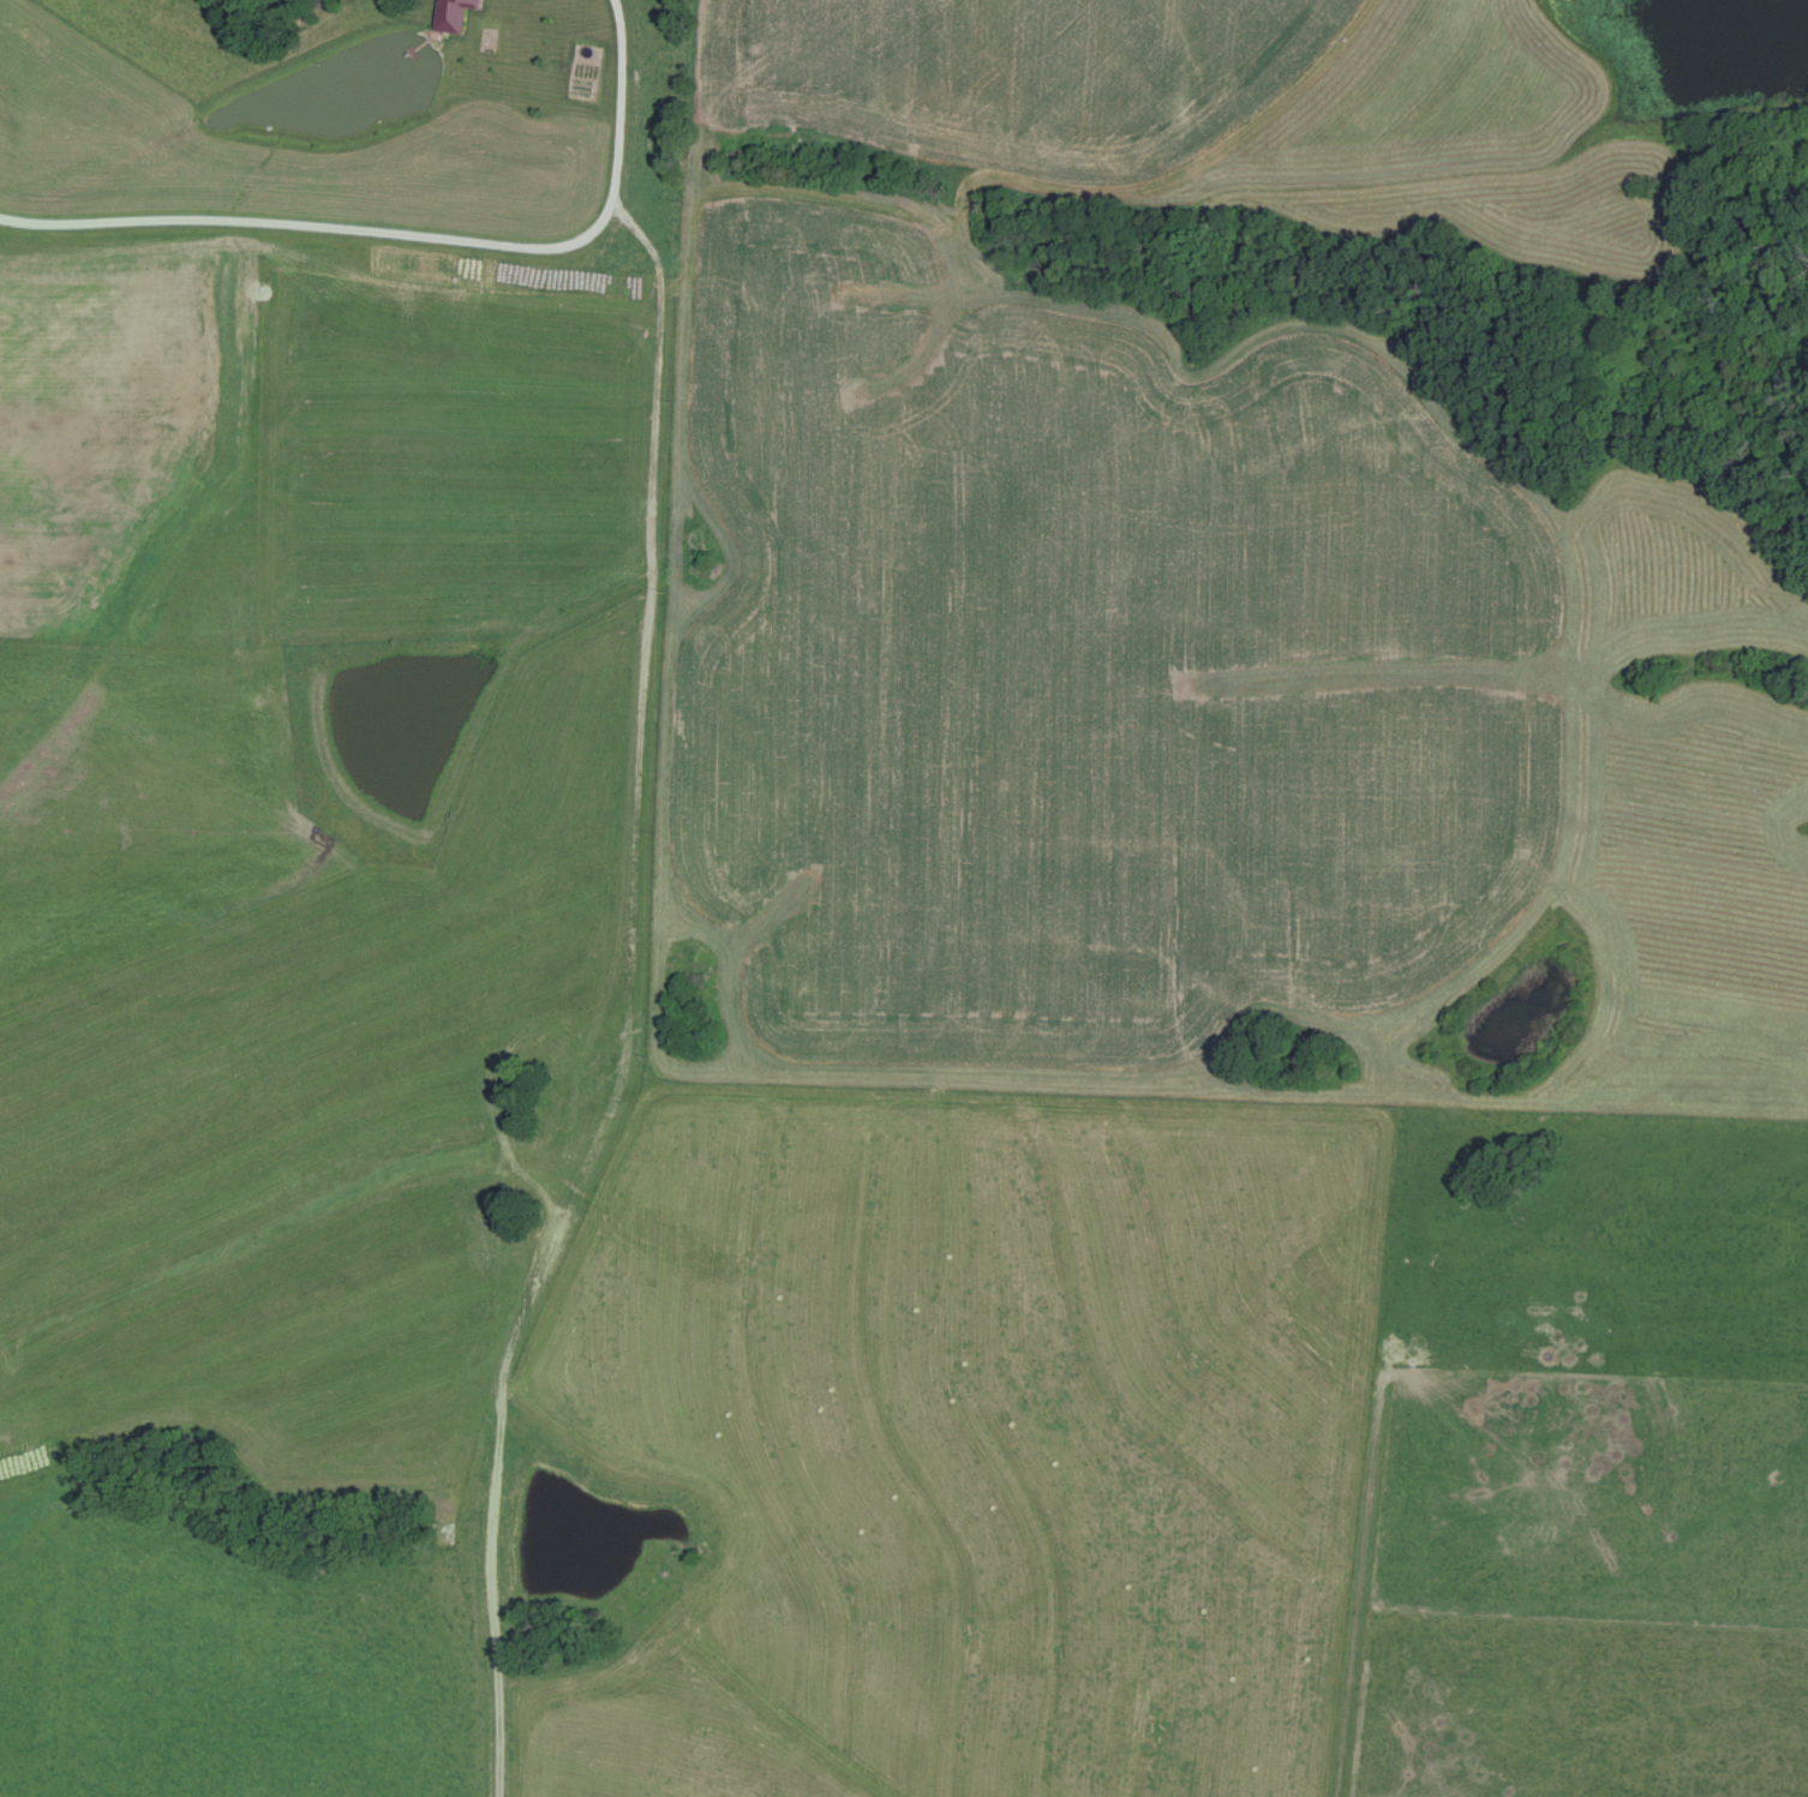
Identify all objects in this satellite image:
building: (453, 14)
road: (415, 234)
road: (493, 1591)

